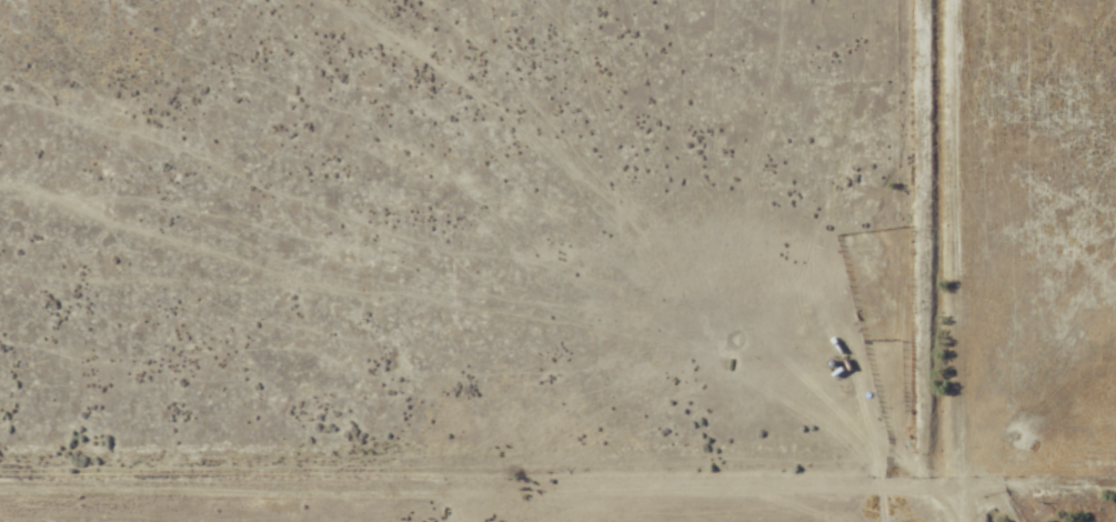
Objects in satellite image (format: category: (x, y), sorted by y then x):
road: (921, 261)

